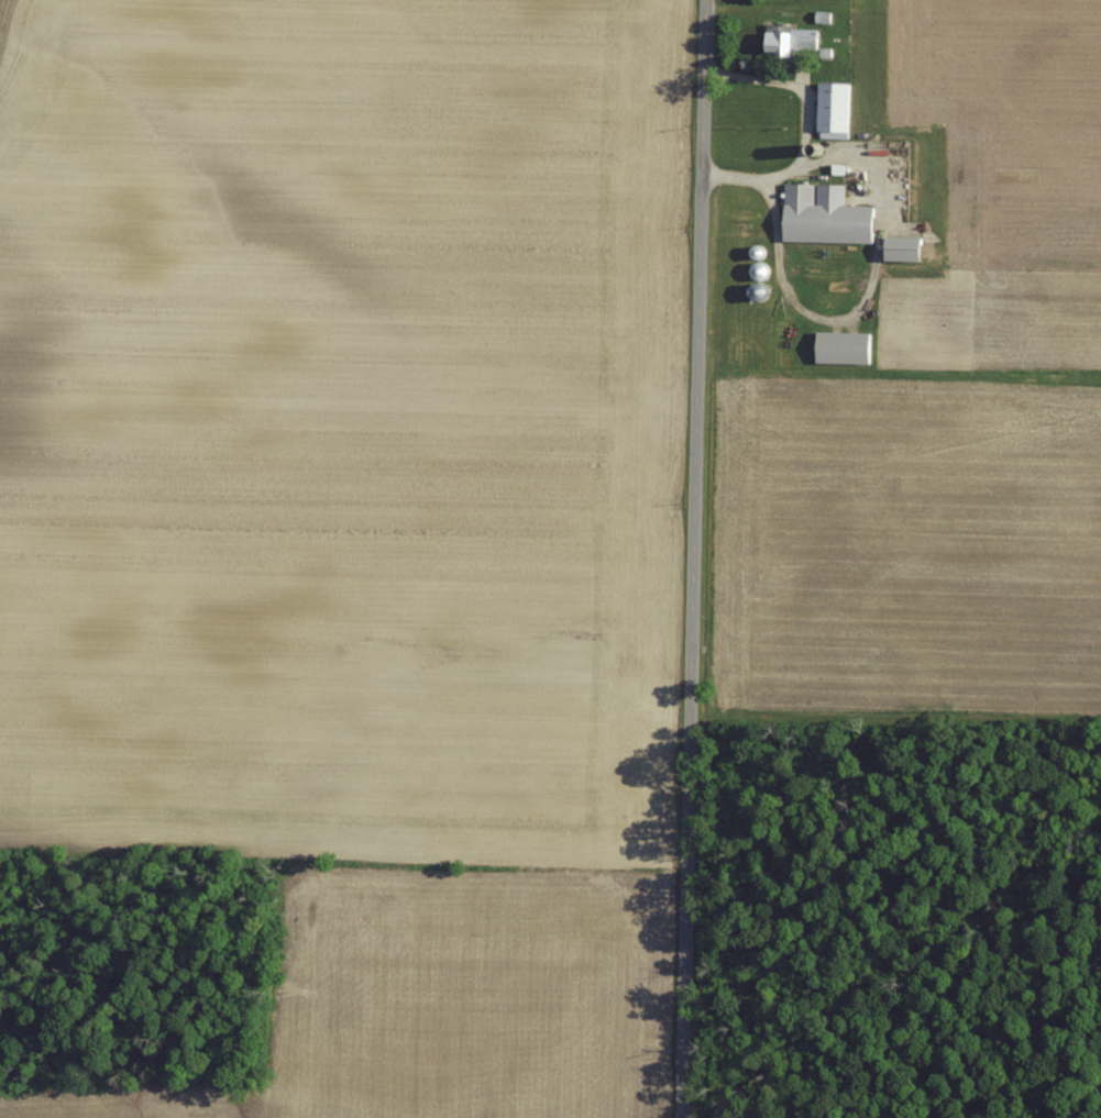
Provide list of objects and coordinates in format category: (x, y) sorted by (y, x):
road: (805, 128)
road: (790, 302)
road: (691, 558)

